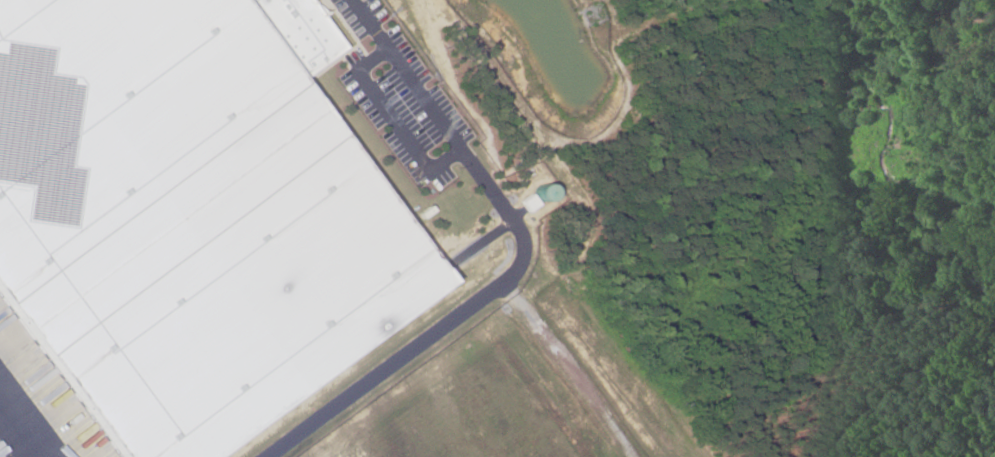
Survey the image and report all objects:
building: (184, 214)
road: (520, 262)
road: (566, 370)
road: (25, 425)

